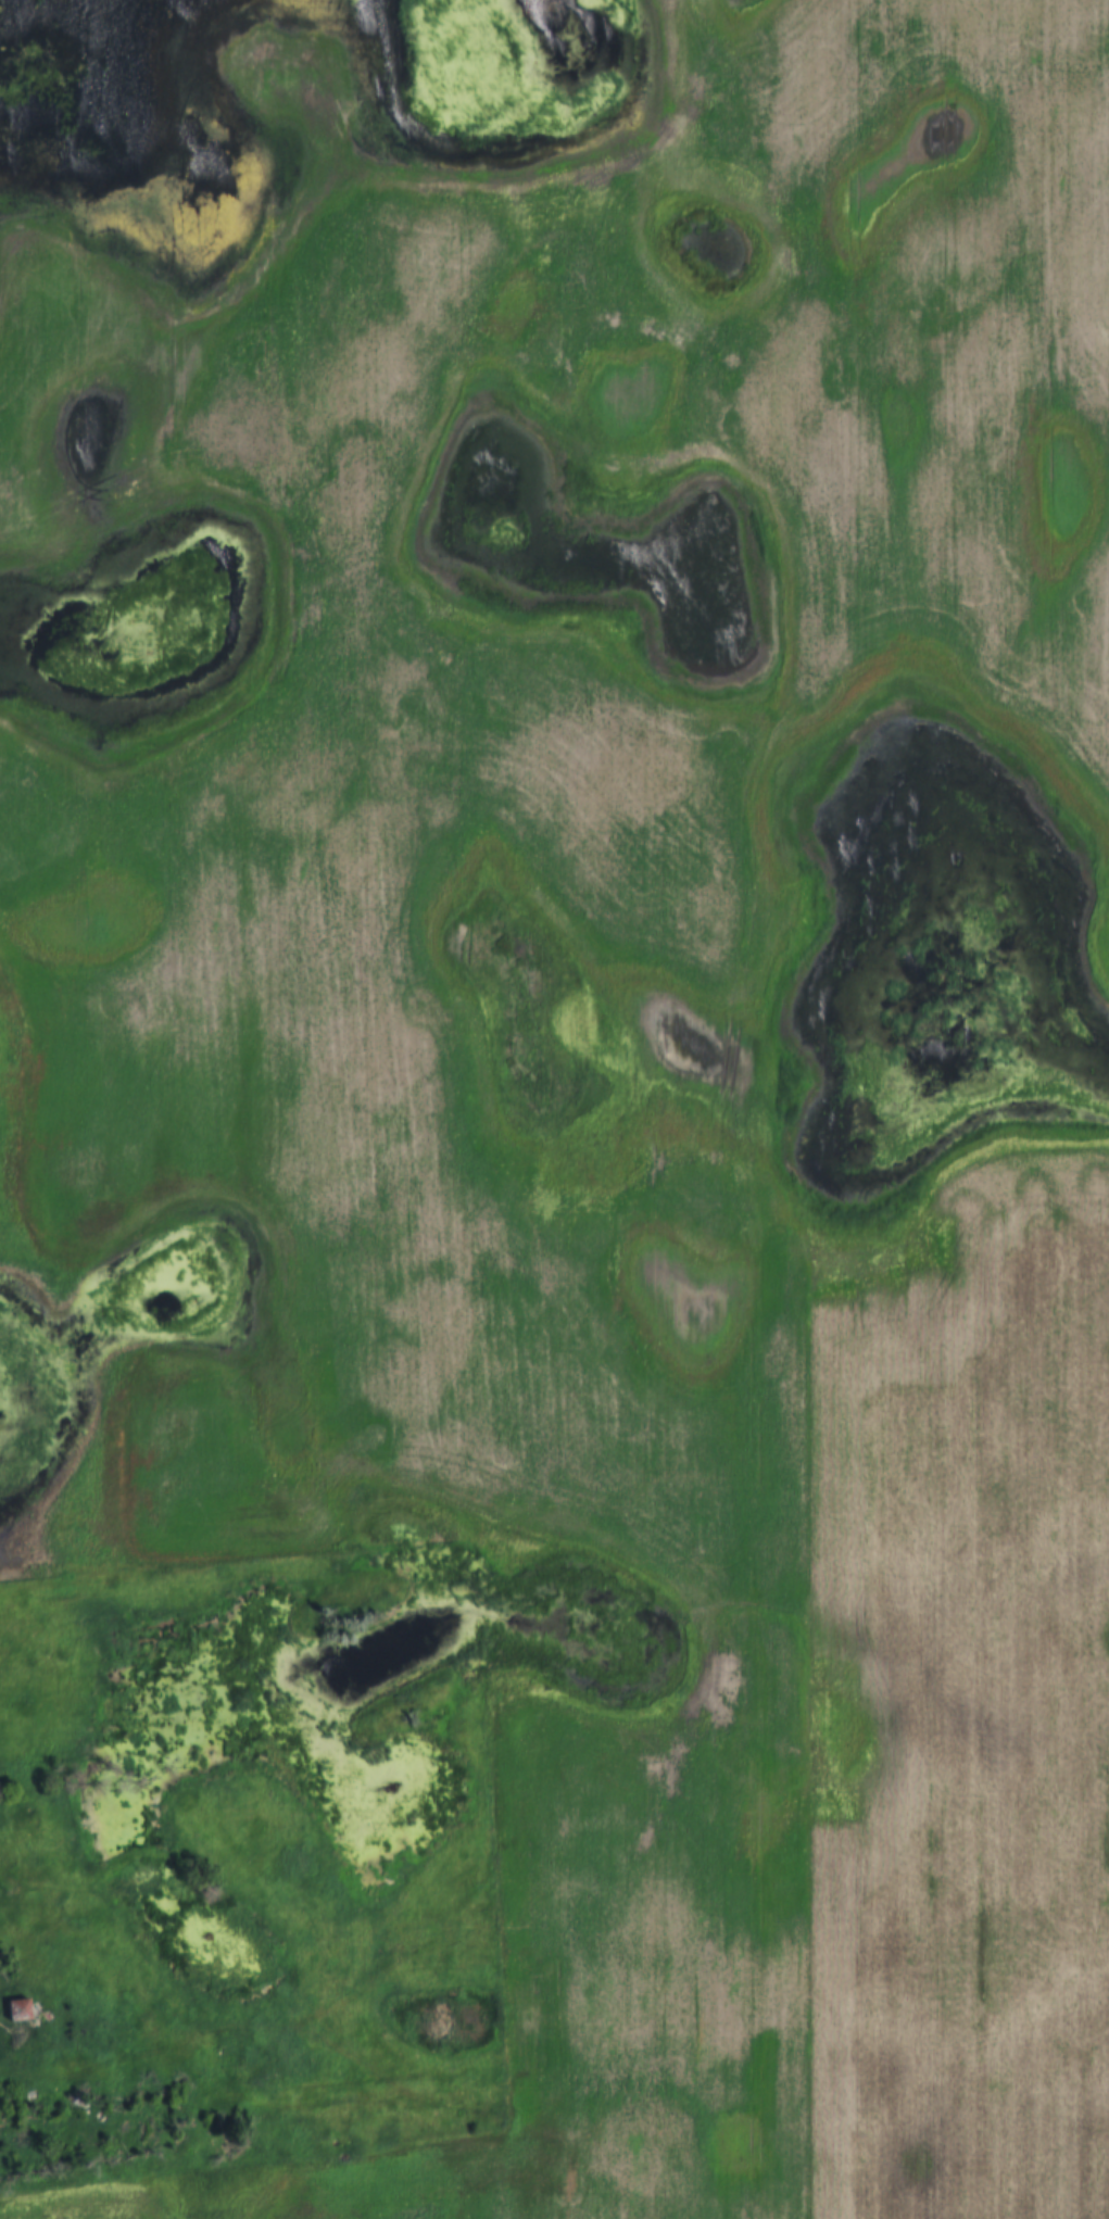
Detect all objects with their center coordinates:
building: (18, 2013)
road: (16, 2017)

